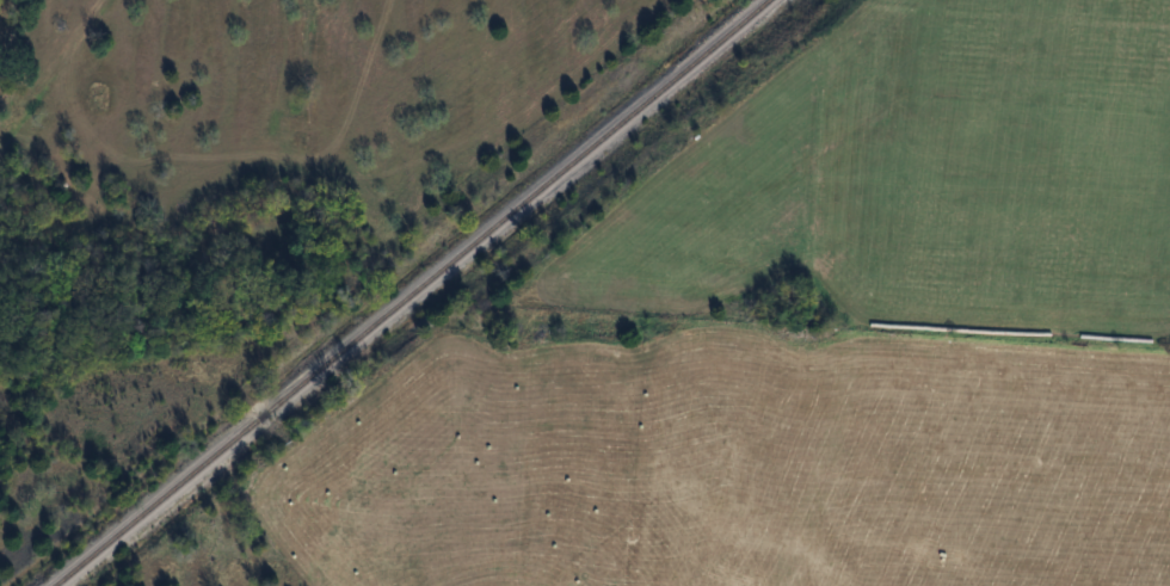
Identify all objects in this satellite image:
railway: (410, 294)

